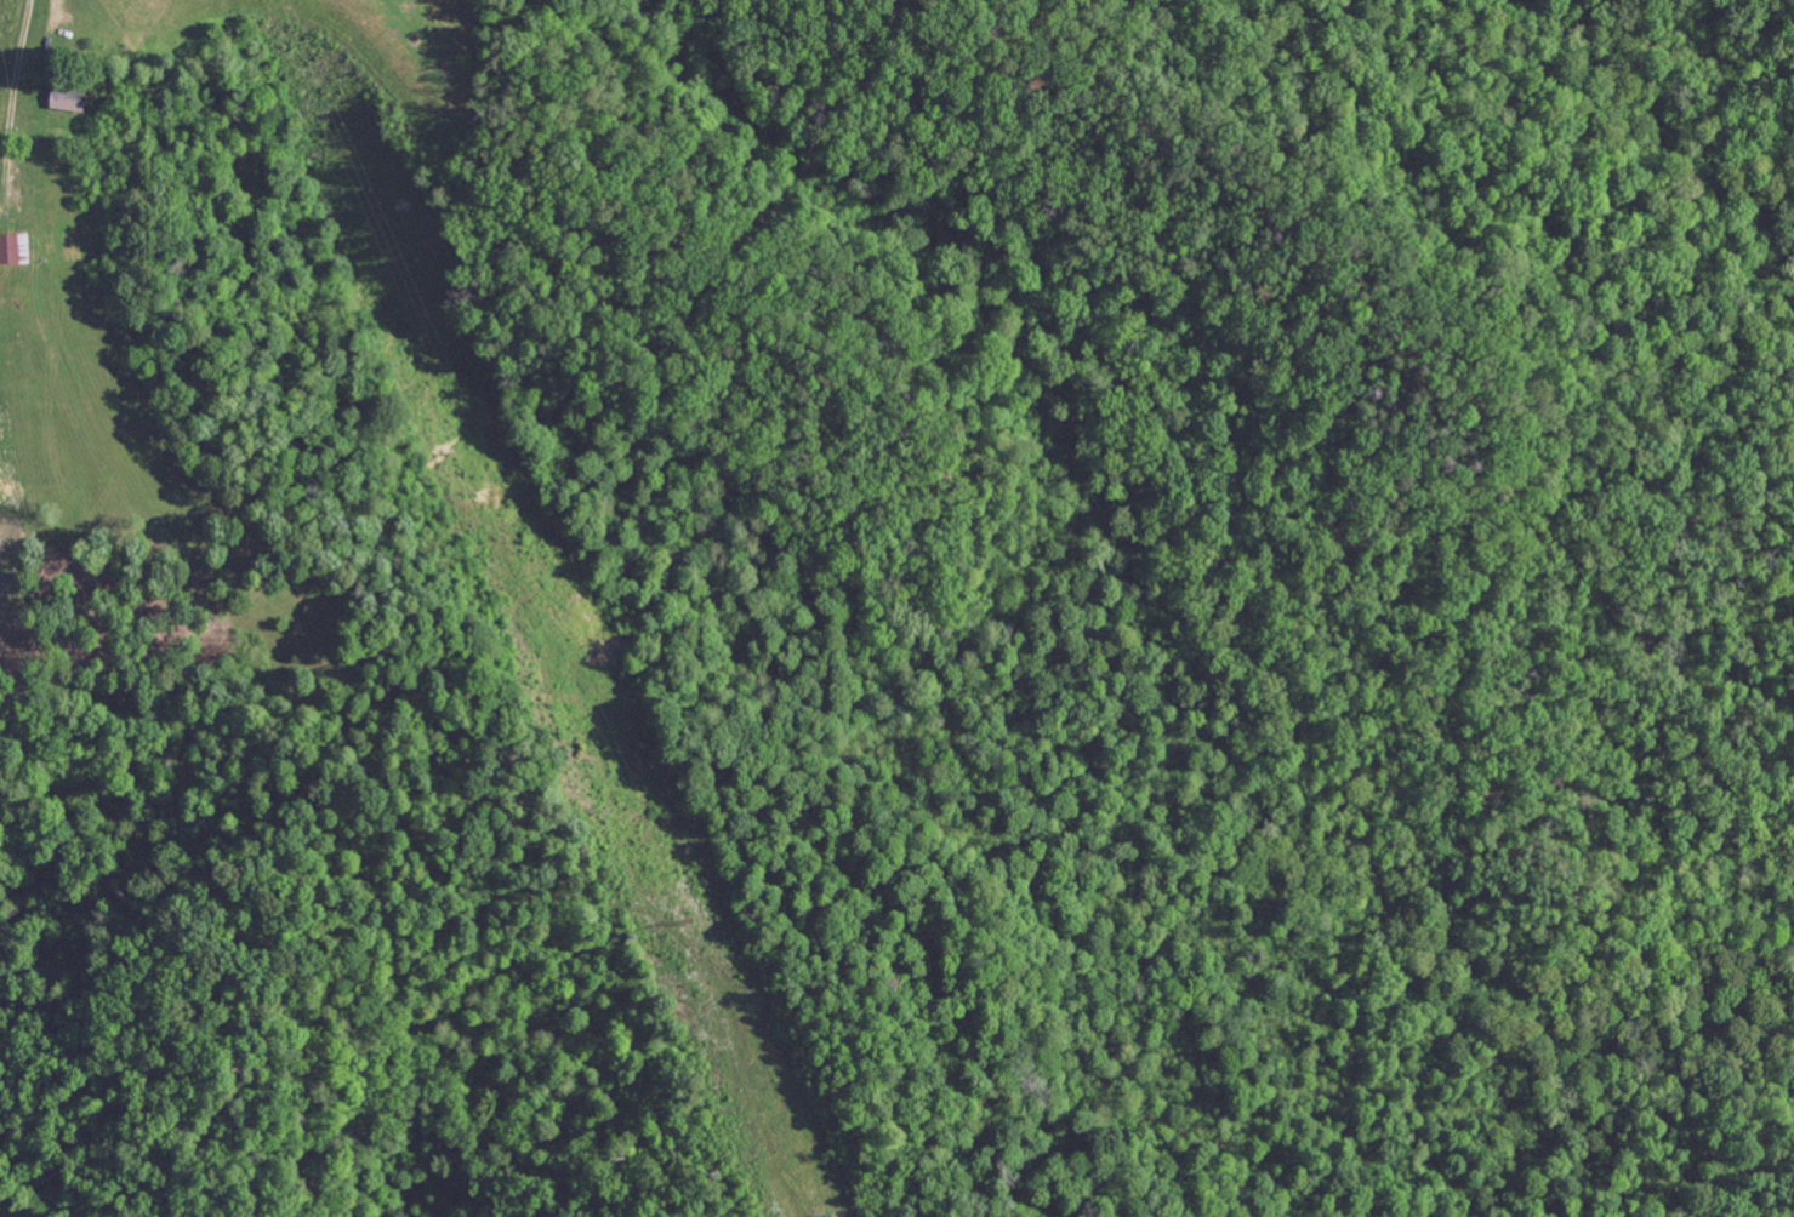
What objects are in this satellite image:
building: (63, 101)
building: (17, 248)

